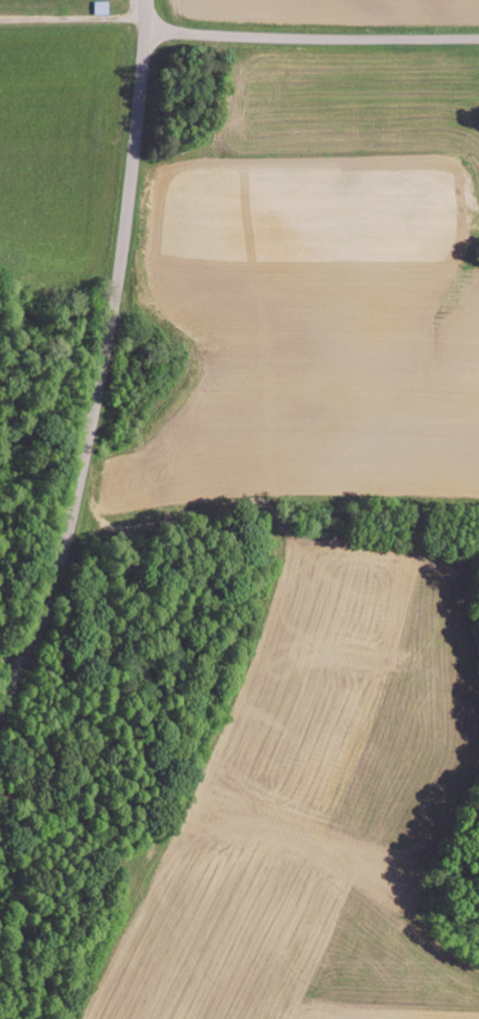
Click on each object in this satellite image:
park: (62, 12)
road: (312, 39)
road: (104, 364)

